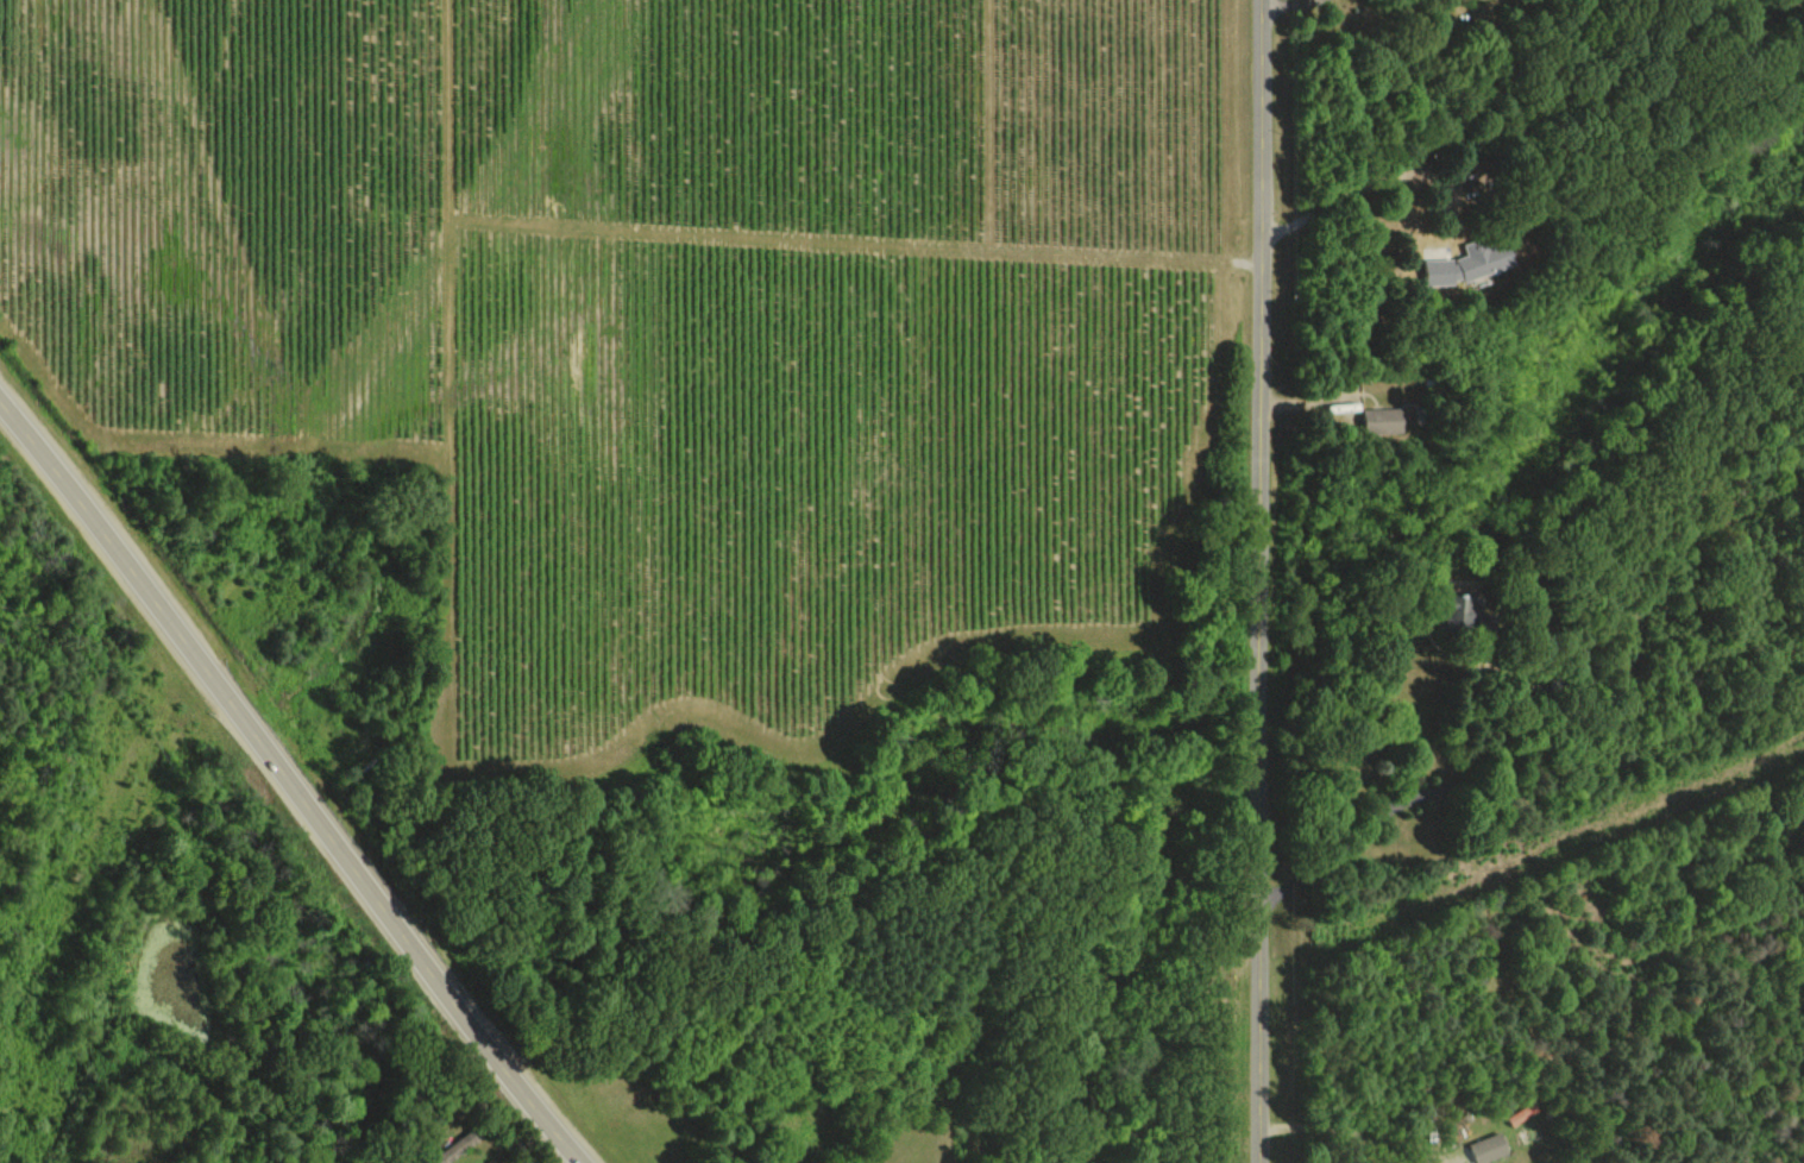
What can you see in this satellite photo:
road: (1286, 6)
road: (1369, 183)
building: (1470, 260)
building: (1382, 419)
road: (1258, 581)
building: (1452, 615)
road: (293, 780)
road: (1377, 812)
road: (1344, 1129)
building: (1490, 1149)

